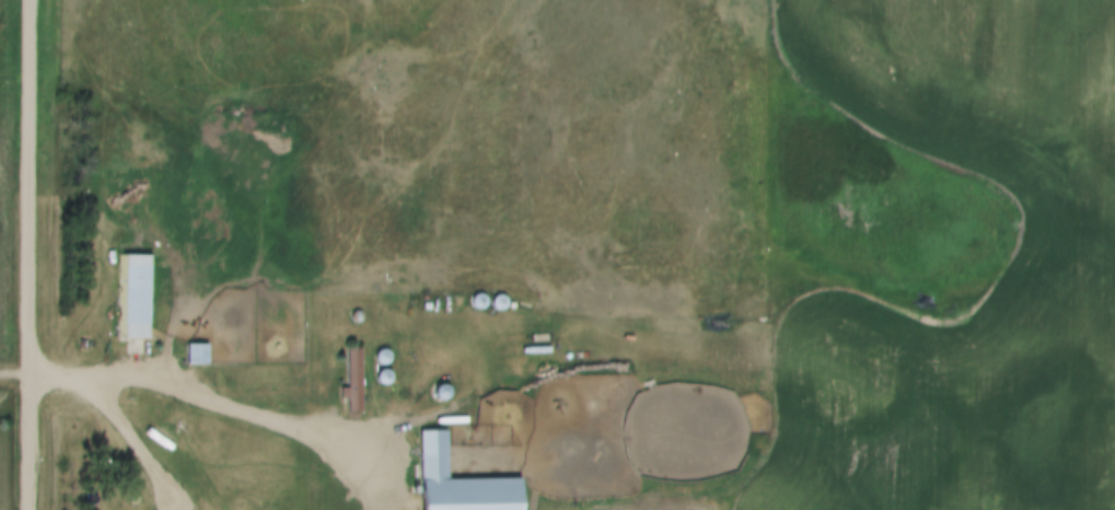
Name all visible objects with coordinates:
road: (25, 254)
building: (137, 298)
building: (197, 355)
building: (355, 382)
road: (208, 401)
building: (72, 429)
building: (460, 483)

